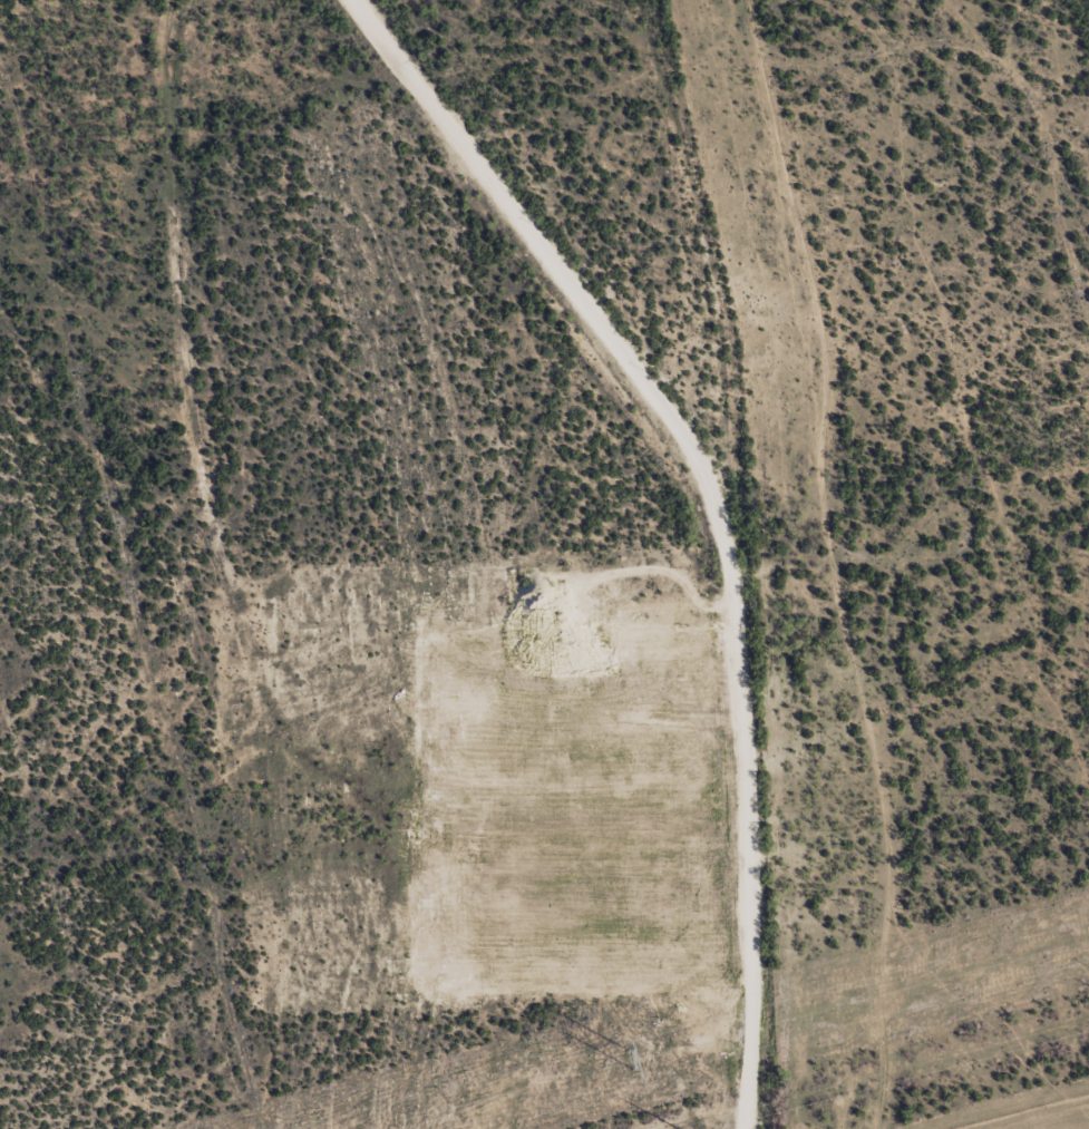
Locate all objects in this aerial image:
power tower: (631, 1060)

